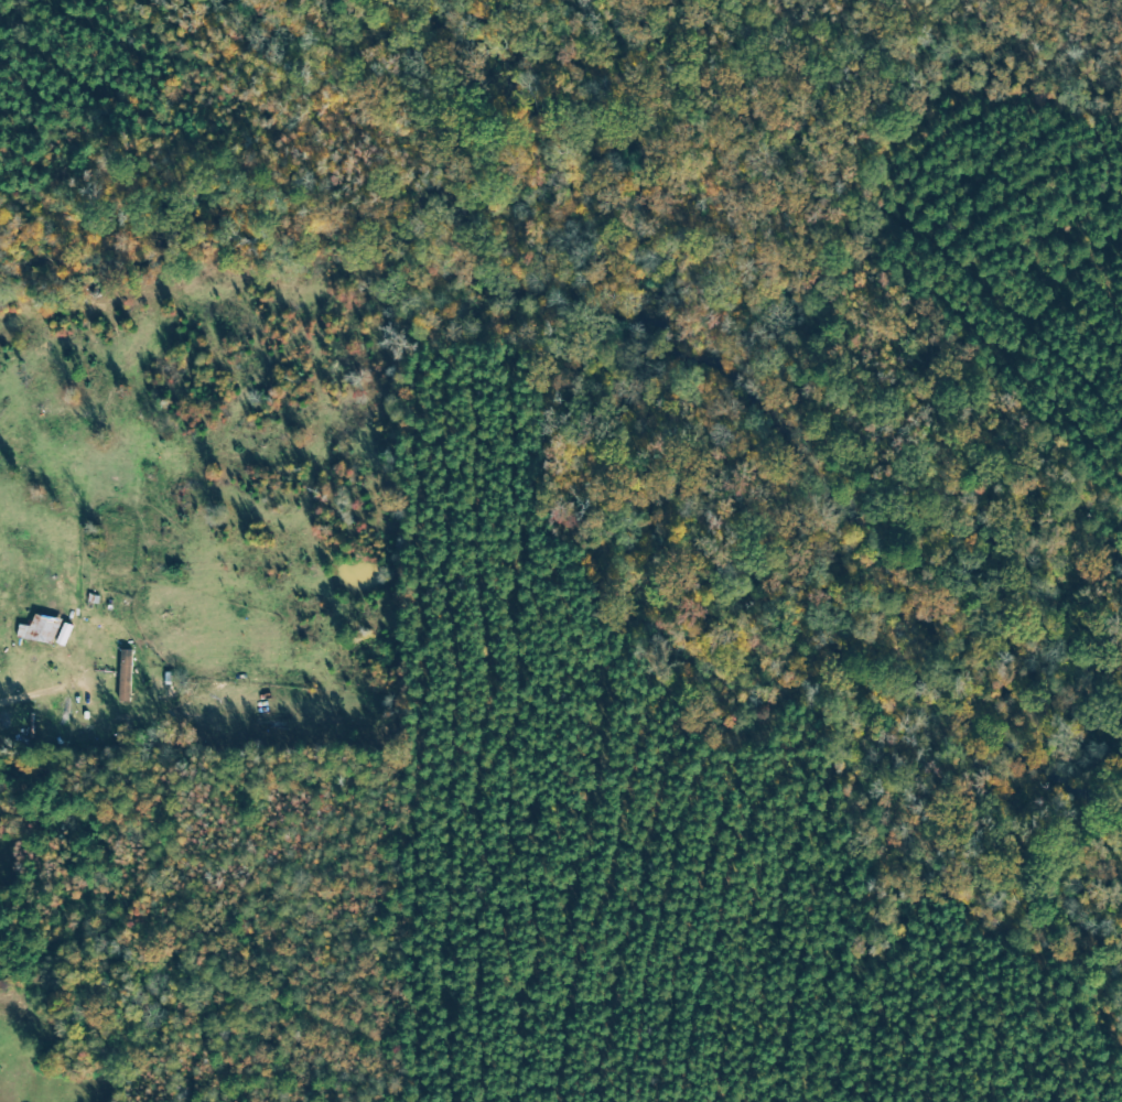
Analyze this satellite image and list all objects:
building: (40, 628)
building: (125, 674)
road: (43, 689)

